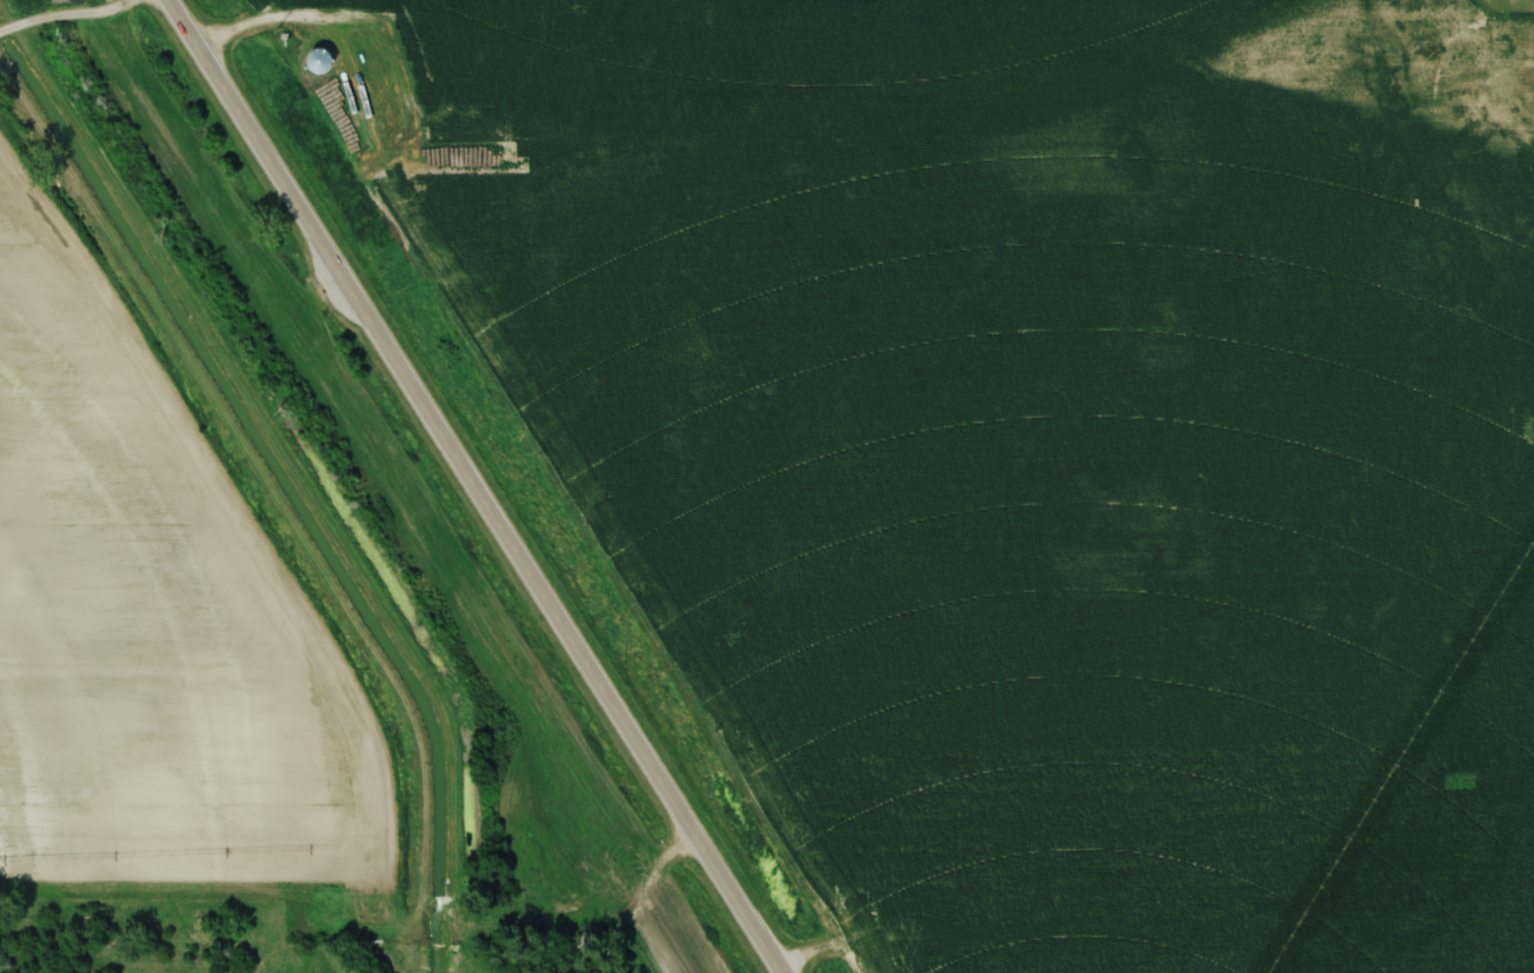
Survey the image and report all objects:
road: (472, 486)

